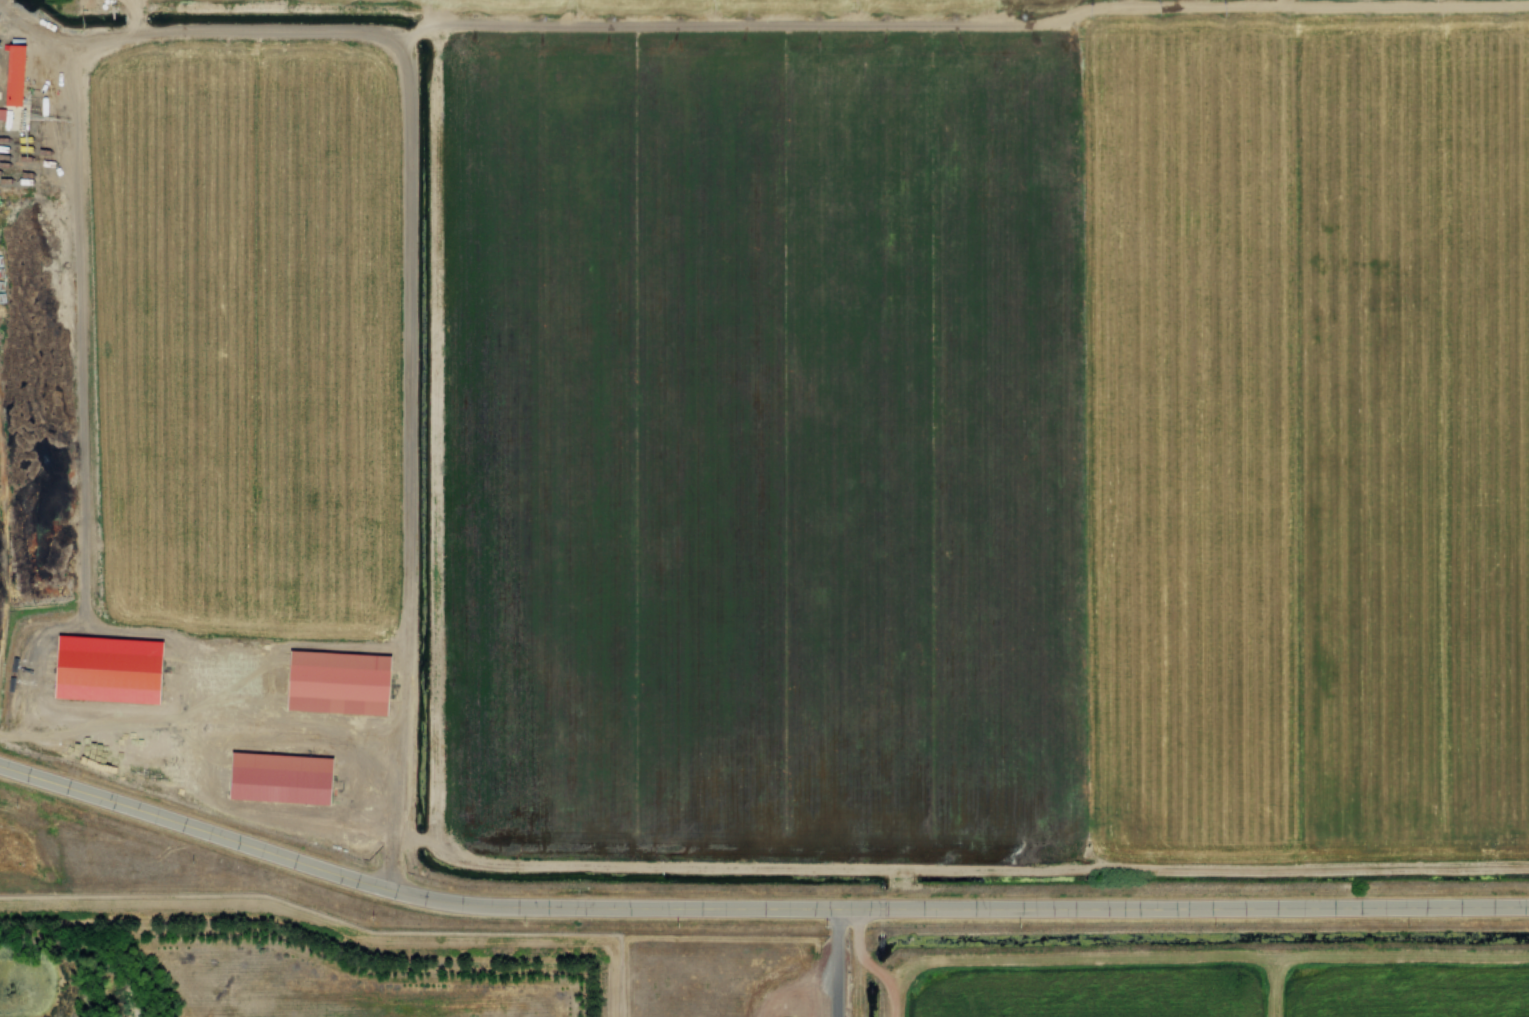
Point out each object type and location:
building: (111, 669)
road: (753, 908)

